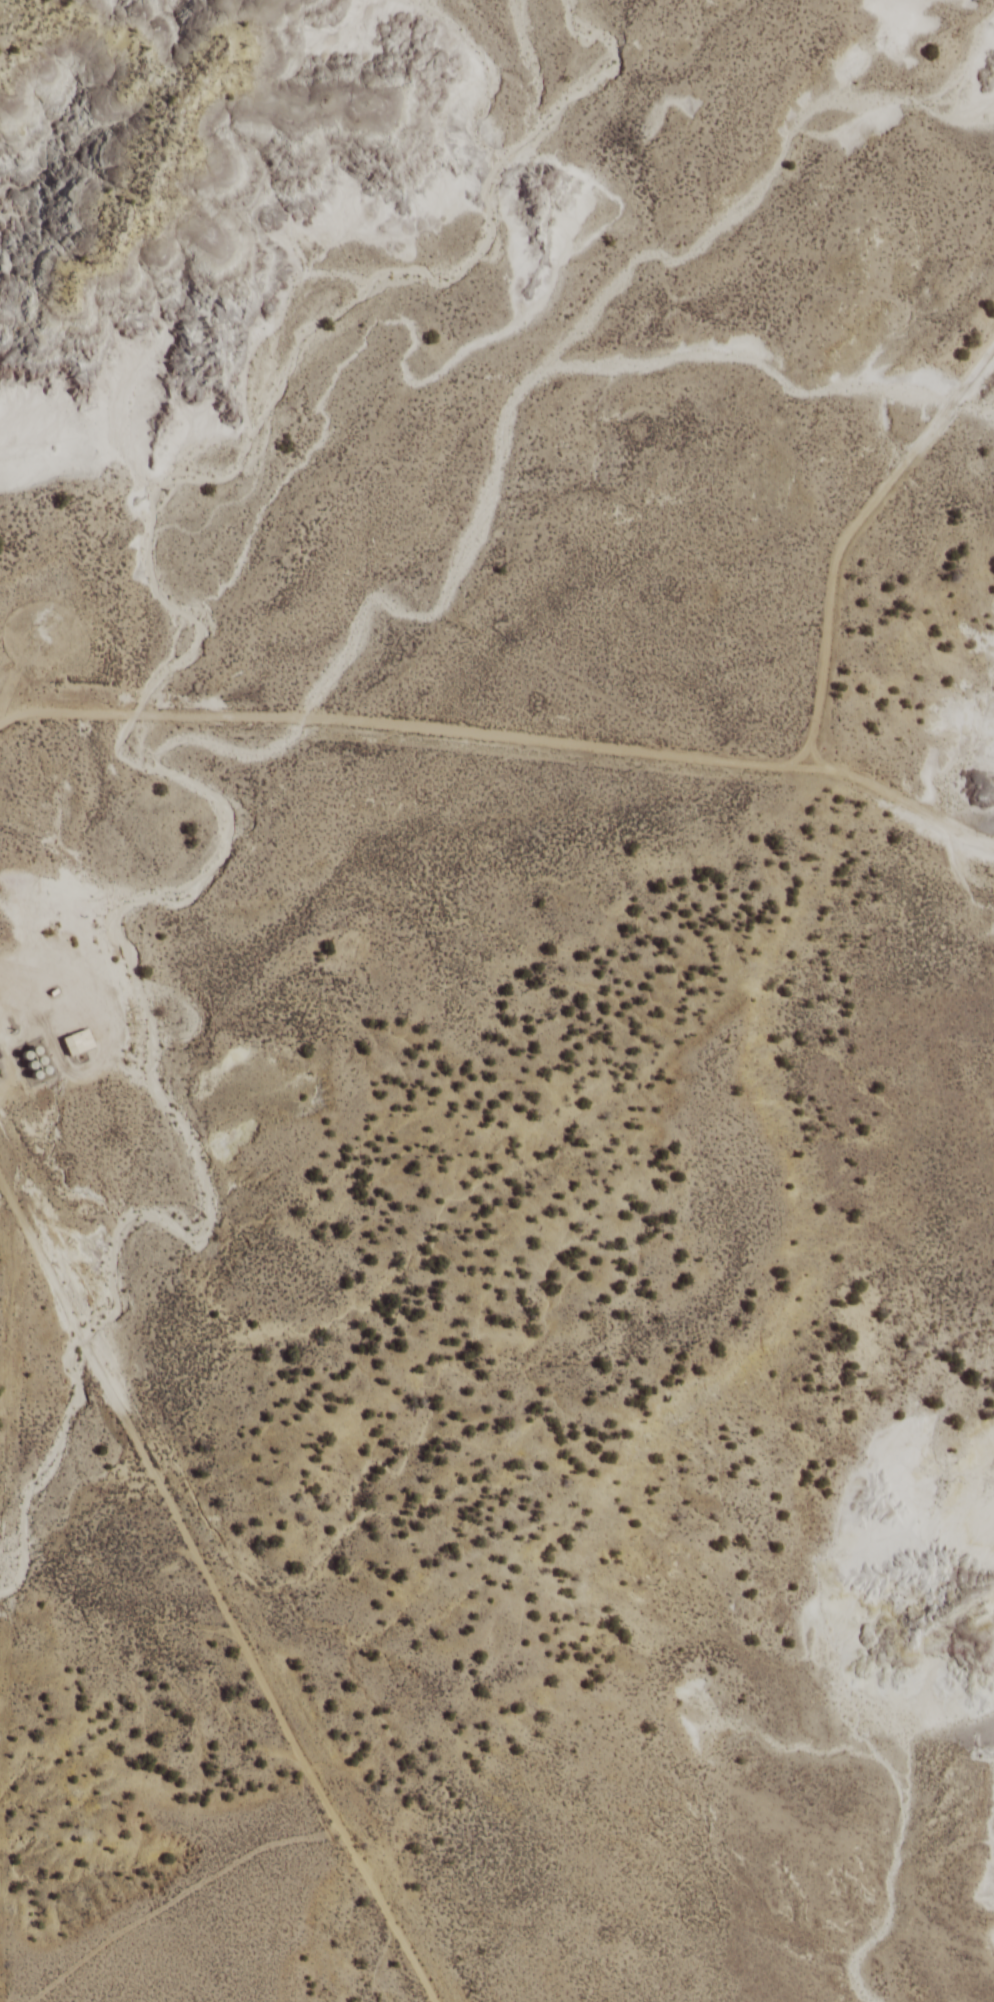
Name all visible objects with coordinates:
building: (79, 1044)
road: (215, 1594)

